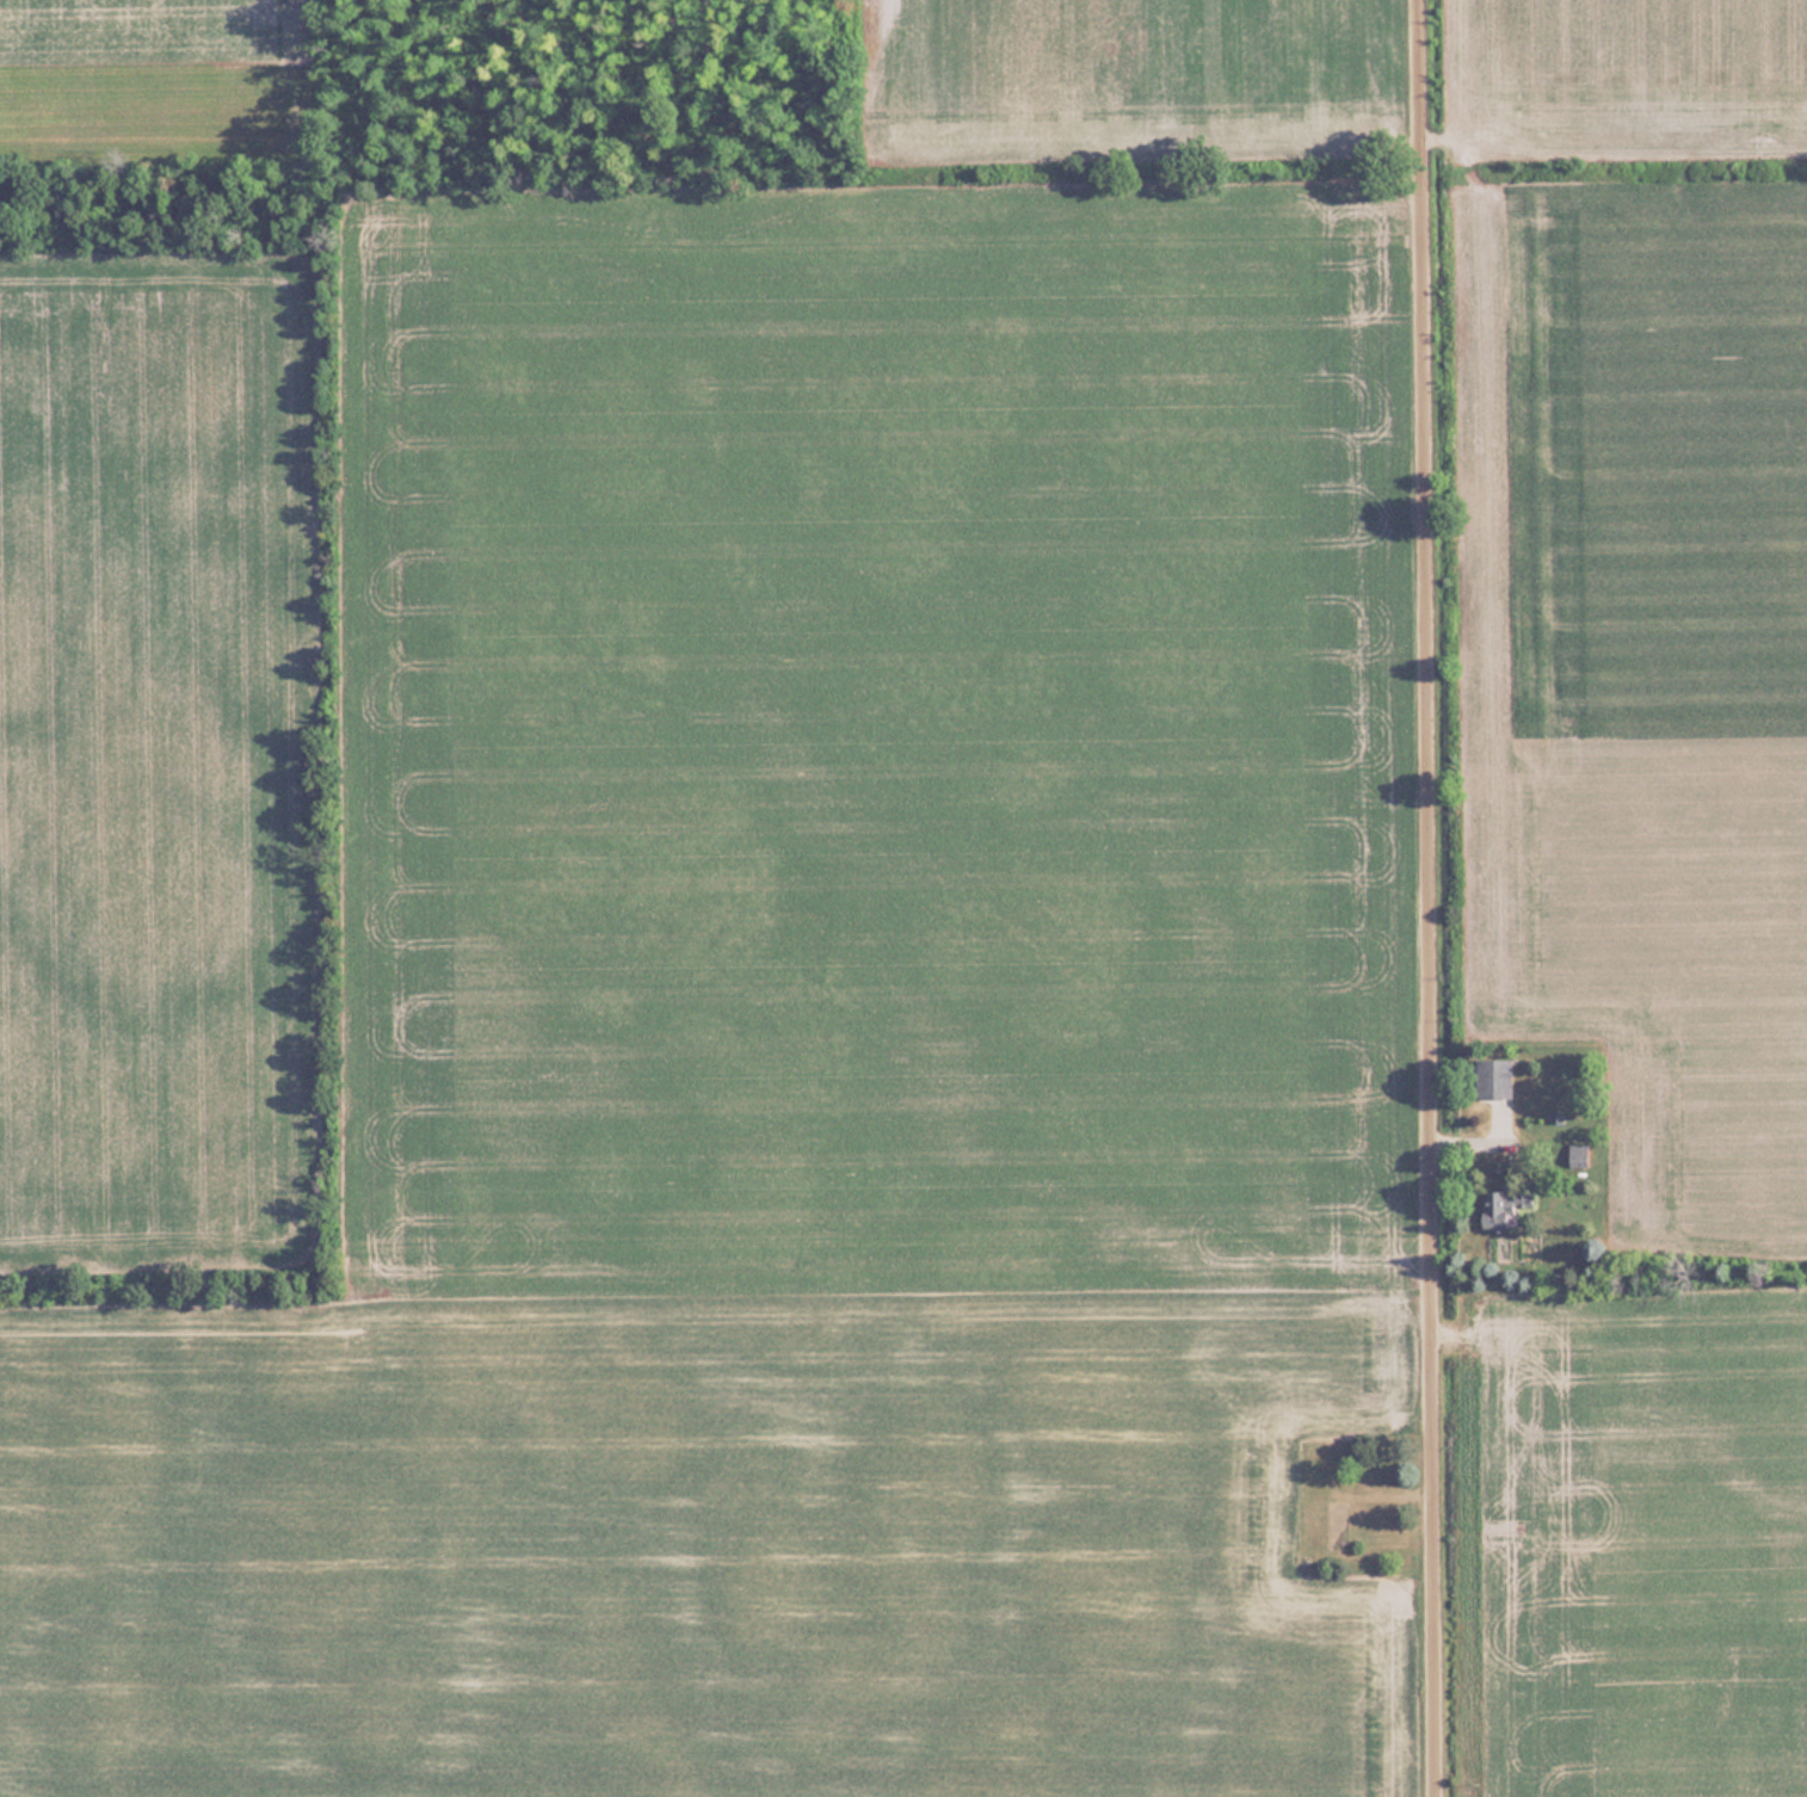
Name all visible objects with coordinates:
road: (1433, 897)
building: (1492, 1077)
building: (1577, 1154)
building: (1495, 1210)

